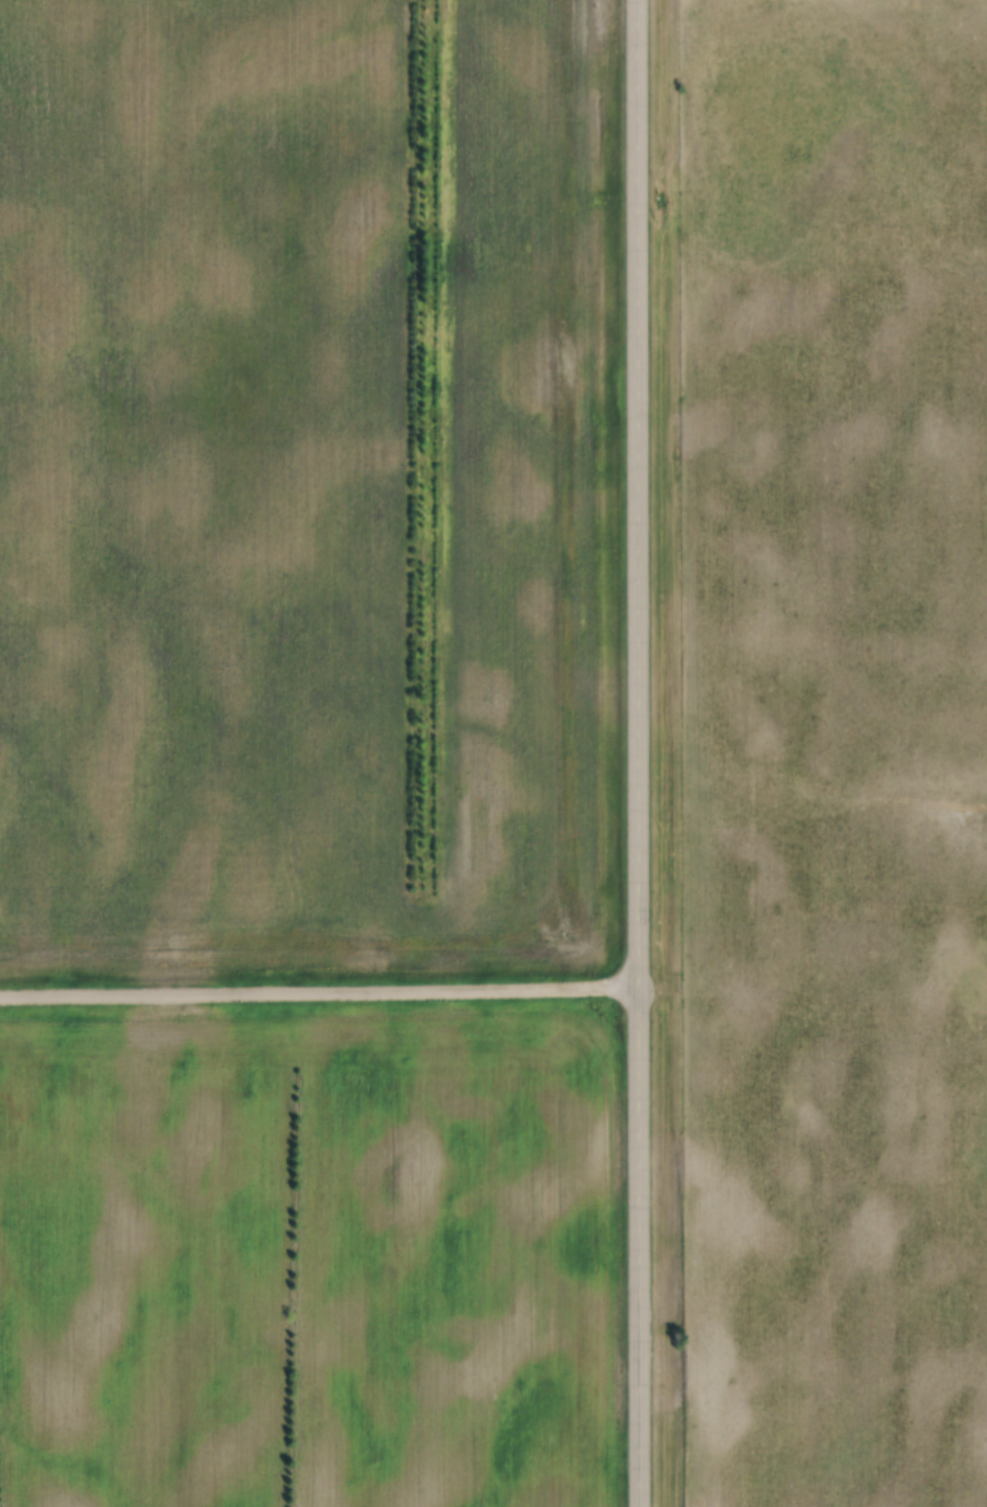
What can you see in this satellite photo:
road: (637, 753)
road: (319, 991)

